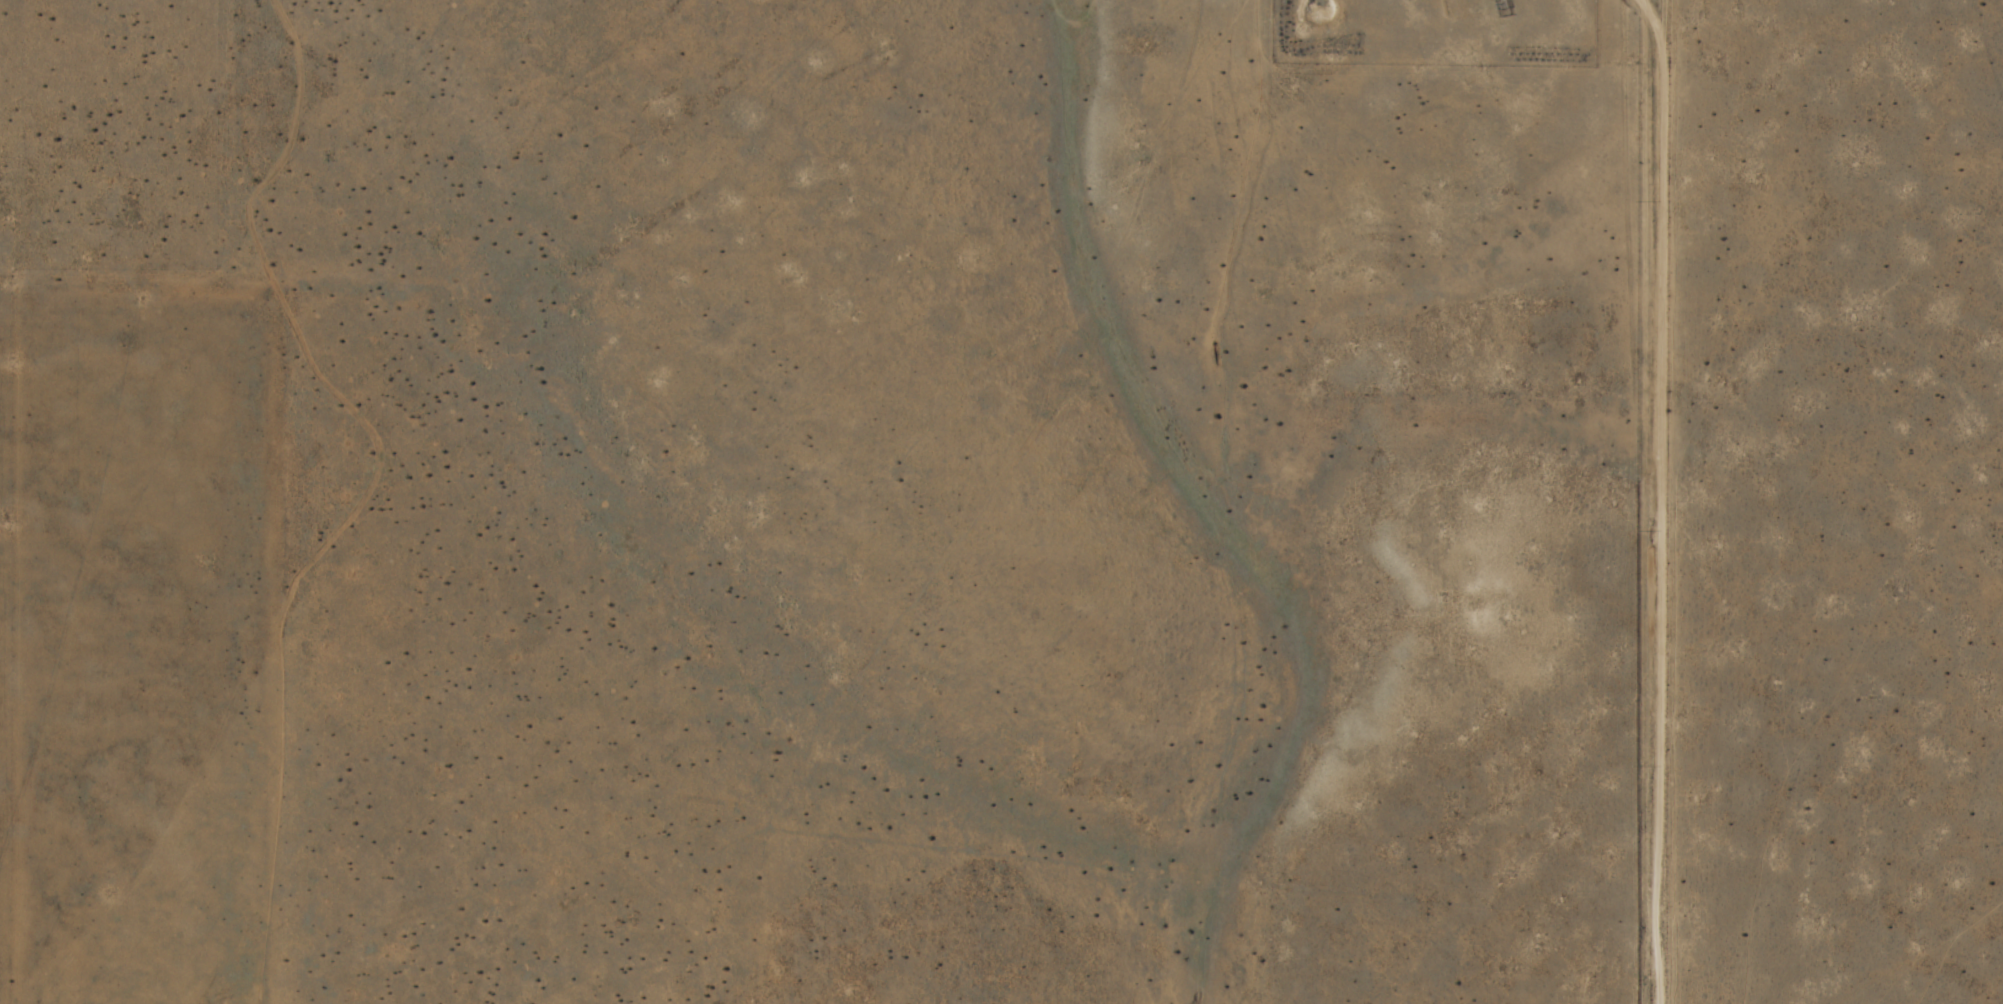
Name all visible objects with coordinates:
road: (1577, 95)
road: (1640, 502)

